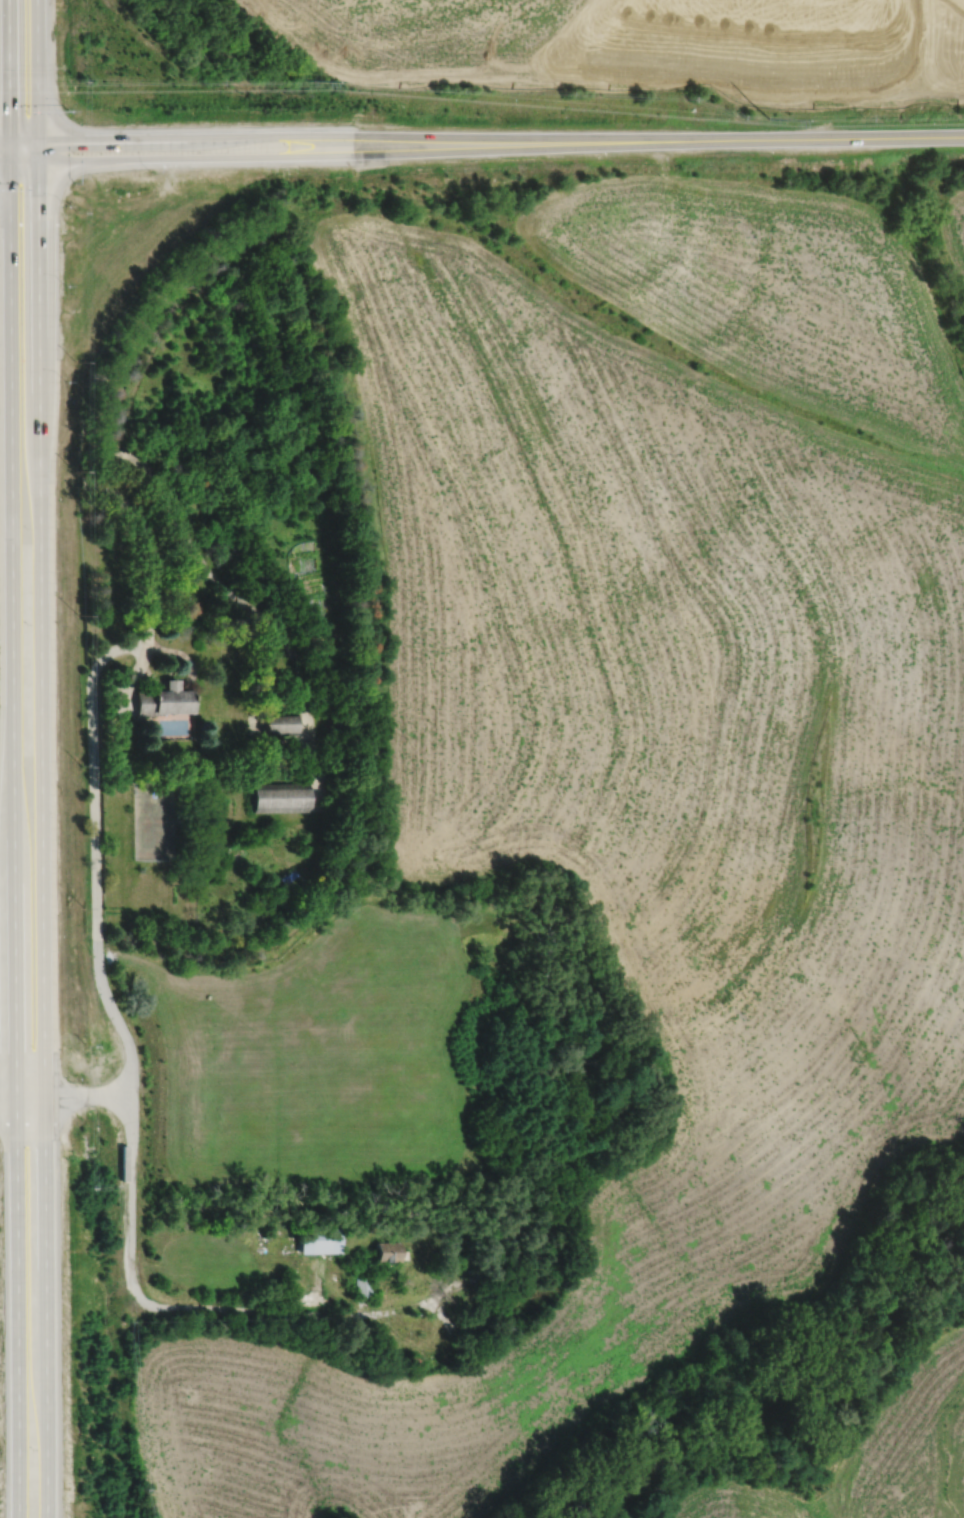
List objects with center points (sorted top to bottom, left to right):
road: (7, 79)
road: (35, 79)
road: (340, 136)
road: (819, 137)
road: (3, 138)
traffic signals: (7, 138)
traffic signals: (36, 138)
road: (341, 155)
road: (4, 159)
traffic signals: (8, 159)
traffic signals: (36, 159)
crop: (954, 229)
crop: (769, 291)
road: (165, 497)
road: (39, 627)
road: (10, 634)
road: (185, 658)
road: (143, 659)
road: (149, 678)
road: (170, 685)
road: (128, 689)
building: (162, 700)
building: (278, 724)
road: (271, 743)
road: (320, 773)
building: (279, 797)
crop: (633, 851)
road: (94, 854)
road: (22, 1084)
road: (87, 1096)
road: (22, 1106)
building: (319, 1240)
building: (388, 1251)
road: (479, 1274)
road: (322, 1286)
building: (363, 1286)
road: (136, 1289)
road: (366, 1306)
road: (46, 1307)
road: (399, 1308)
road: (19, 1313)
road: (344, 1316)
road: (447, 1322)
crop: (875, 1456)

